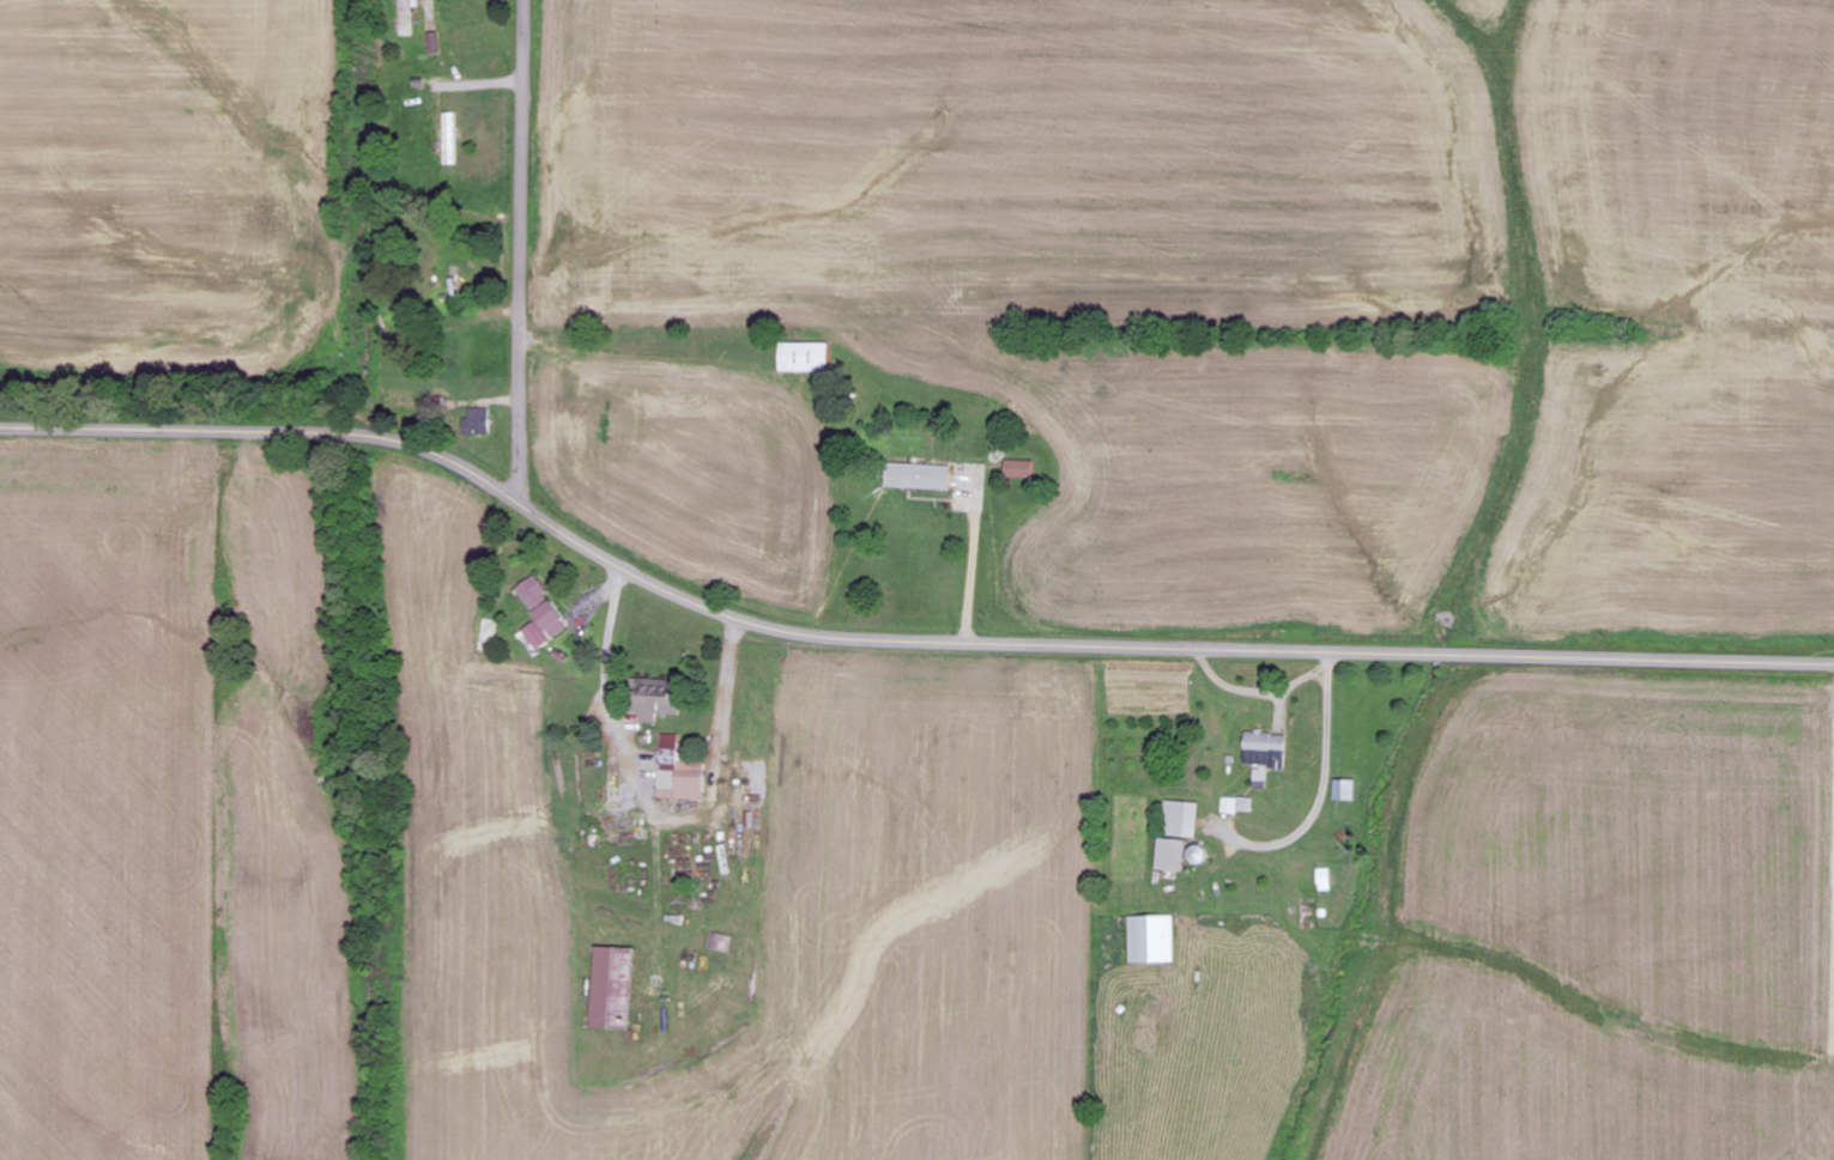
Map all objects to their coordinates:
building: (448, 140)
road: (521, 247)
building: (803, 358)
building: (477, 423)
building: (1017, 469)
building: (916, 478)
building: (539, 614)
road: (894, 633)
building: (654, 700)
building: (1266, 754)
building: (678, 772)
building: (1344, 790)
building: (1237, 804)
building: (1182, 819)
building: (1170, 855)
building: (1151, 939)
building: (611, 988)

